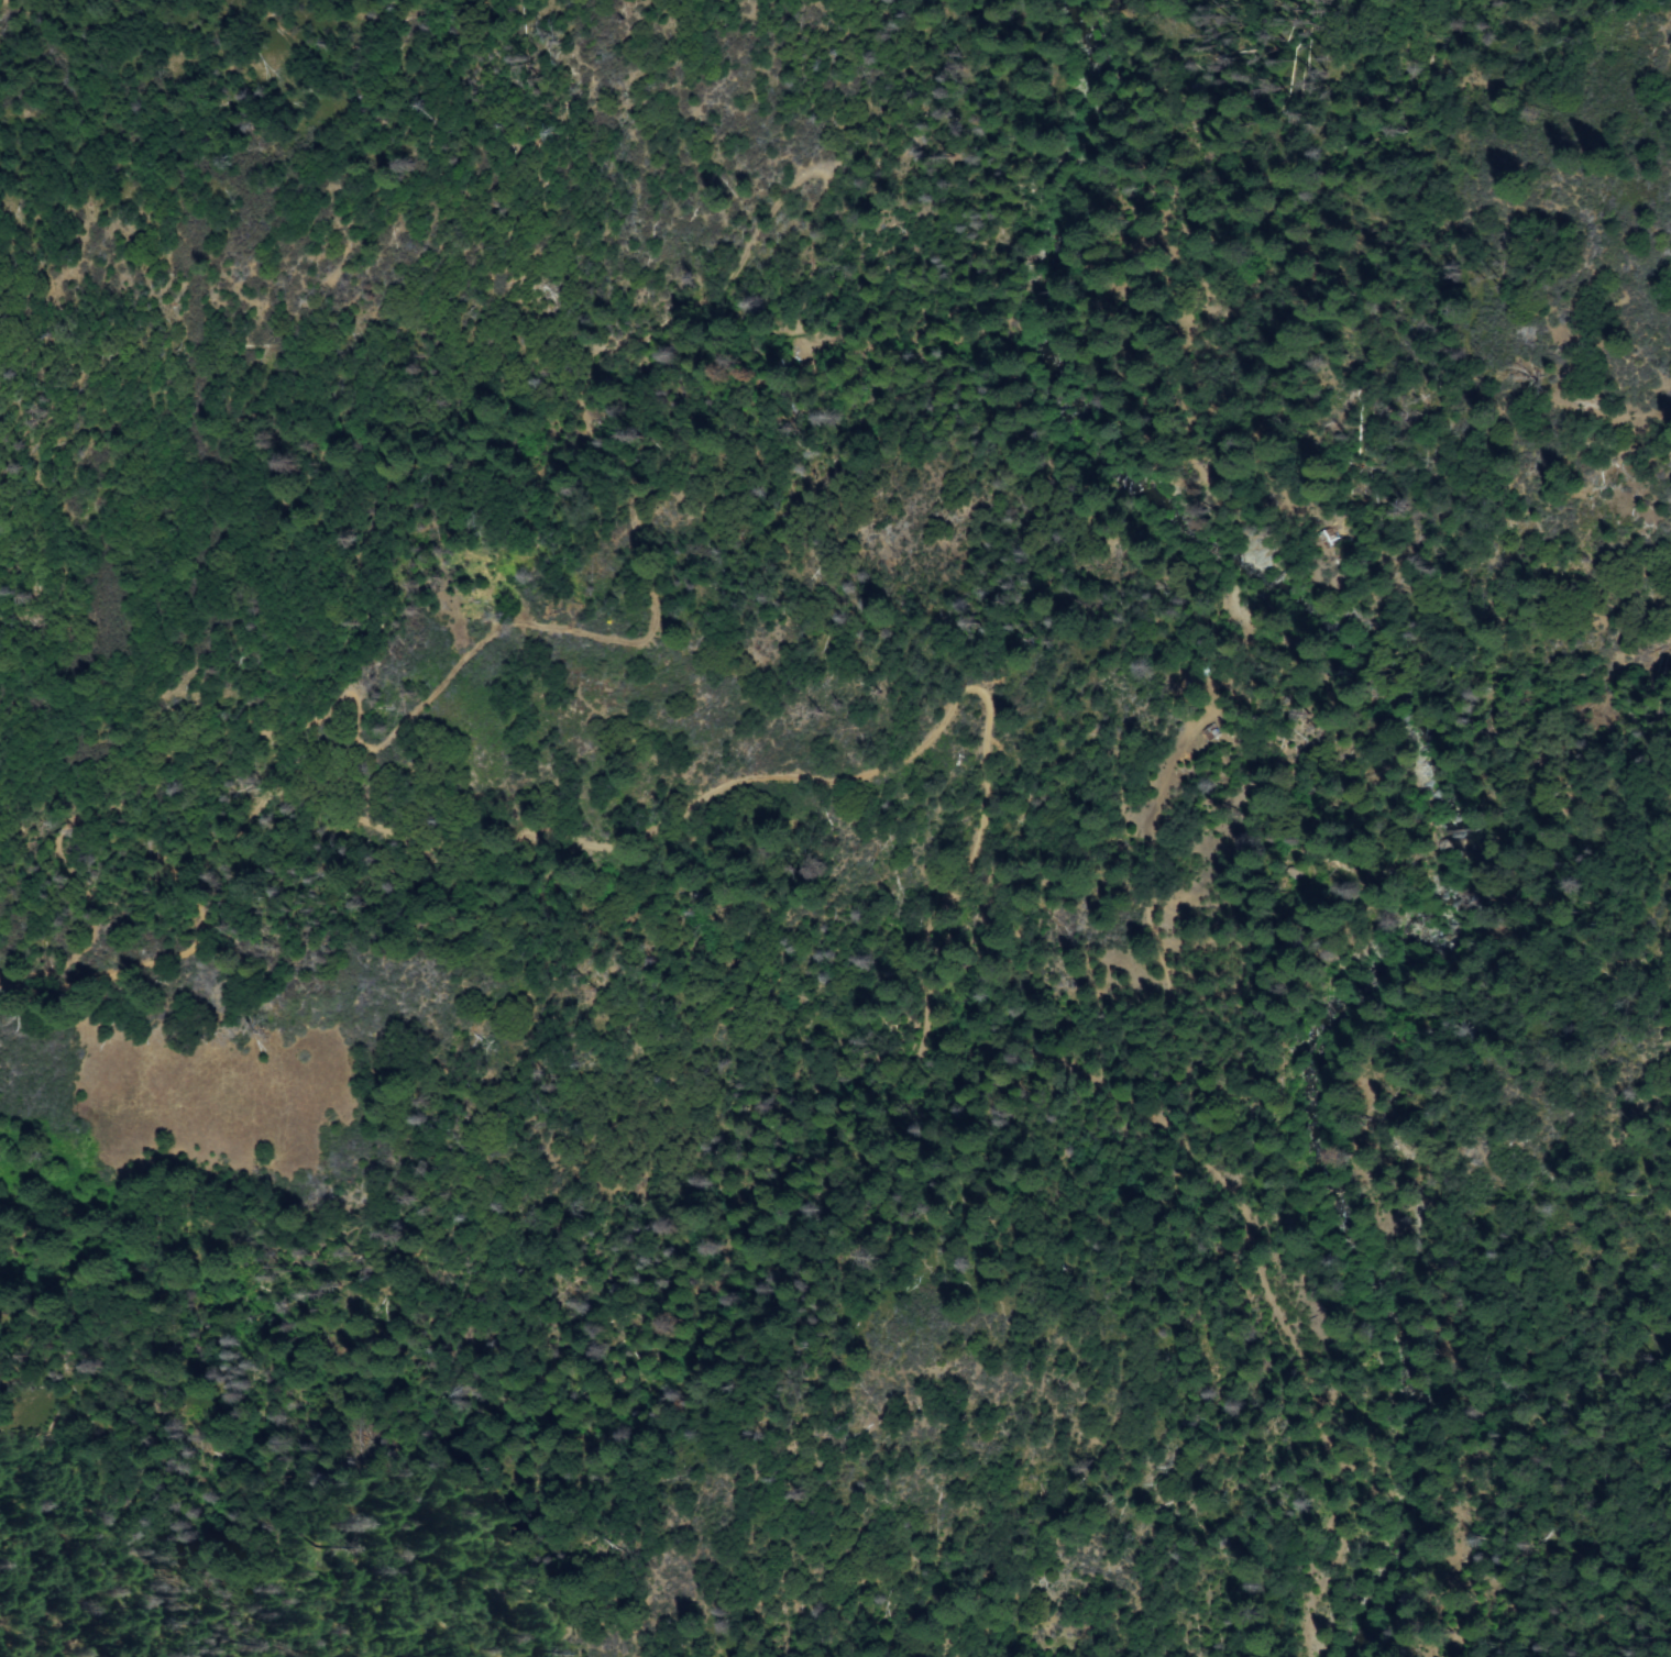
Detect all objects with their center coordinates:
road: (322, 721)
building: (1210, 731)
river: (1414, 767)
road: (598, 849)

